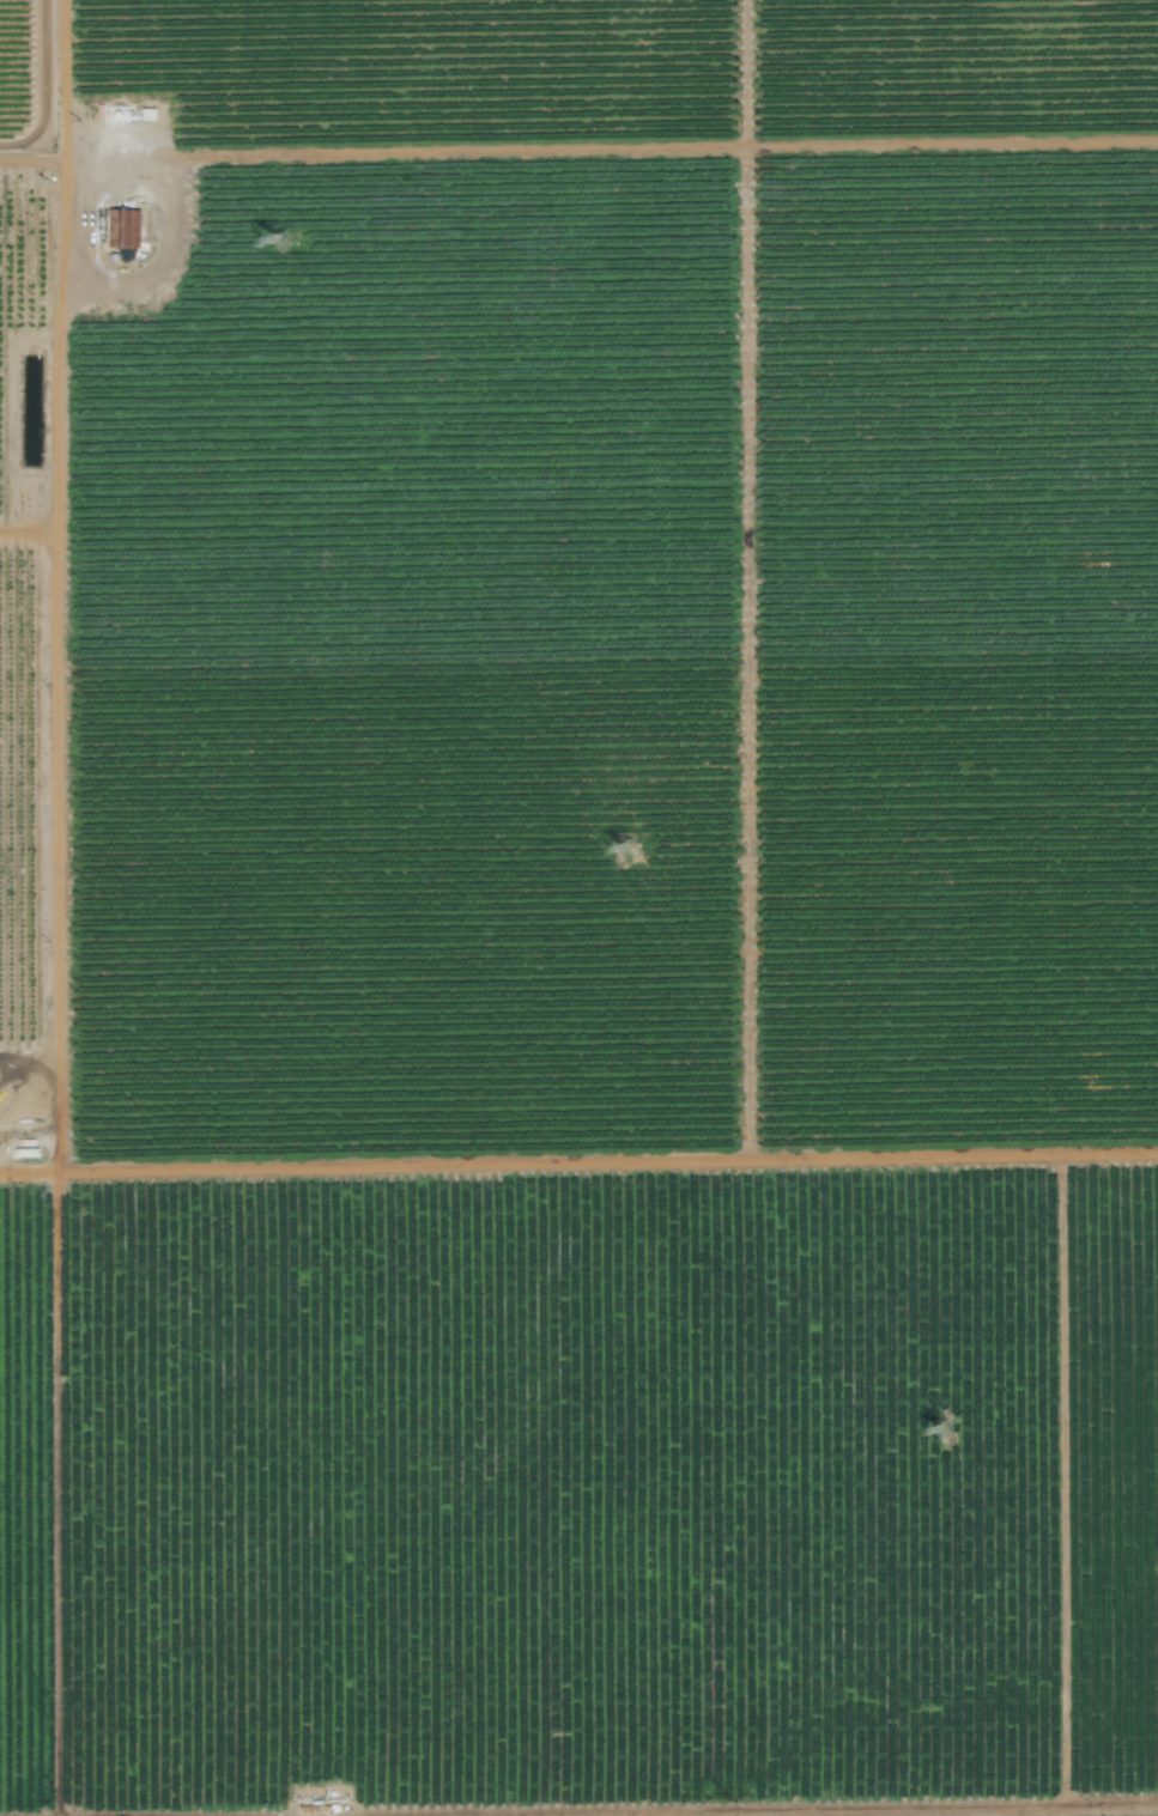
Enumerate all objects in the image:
road: (63, 80)
road: (28, 84)
road: (105, 159)
power tower: (286, 244)
road: (741, 578)
power tower: (635, 854)
road: (578, 1160)
power tower: (948, 1432)
road: (1056, 1477)
road: (53, 1493)
road: (817, 1808)

